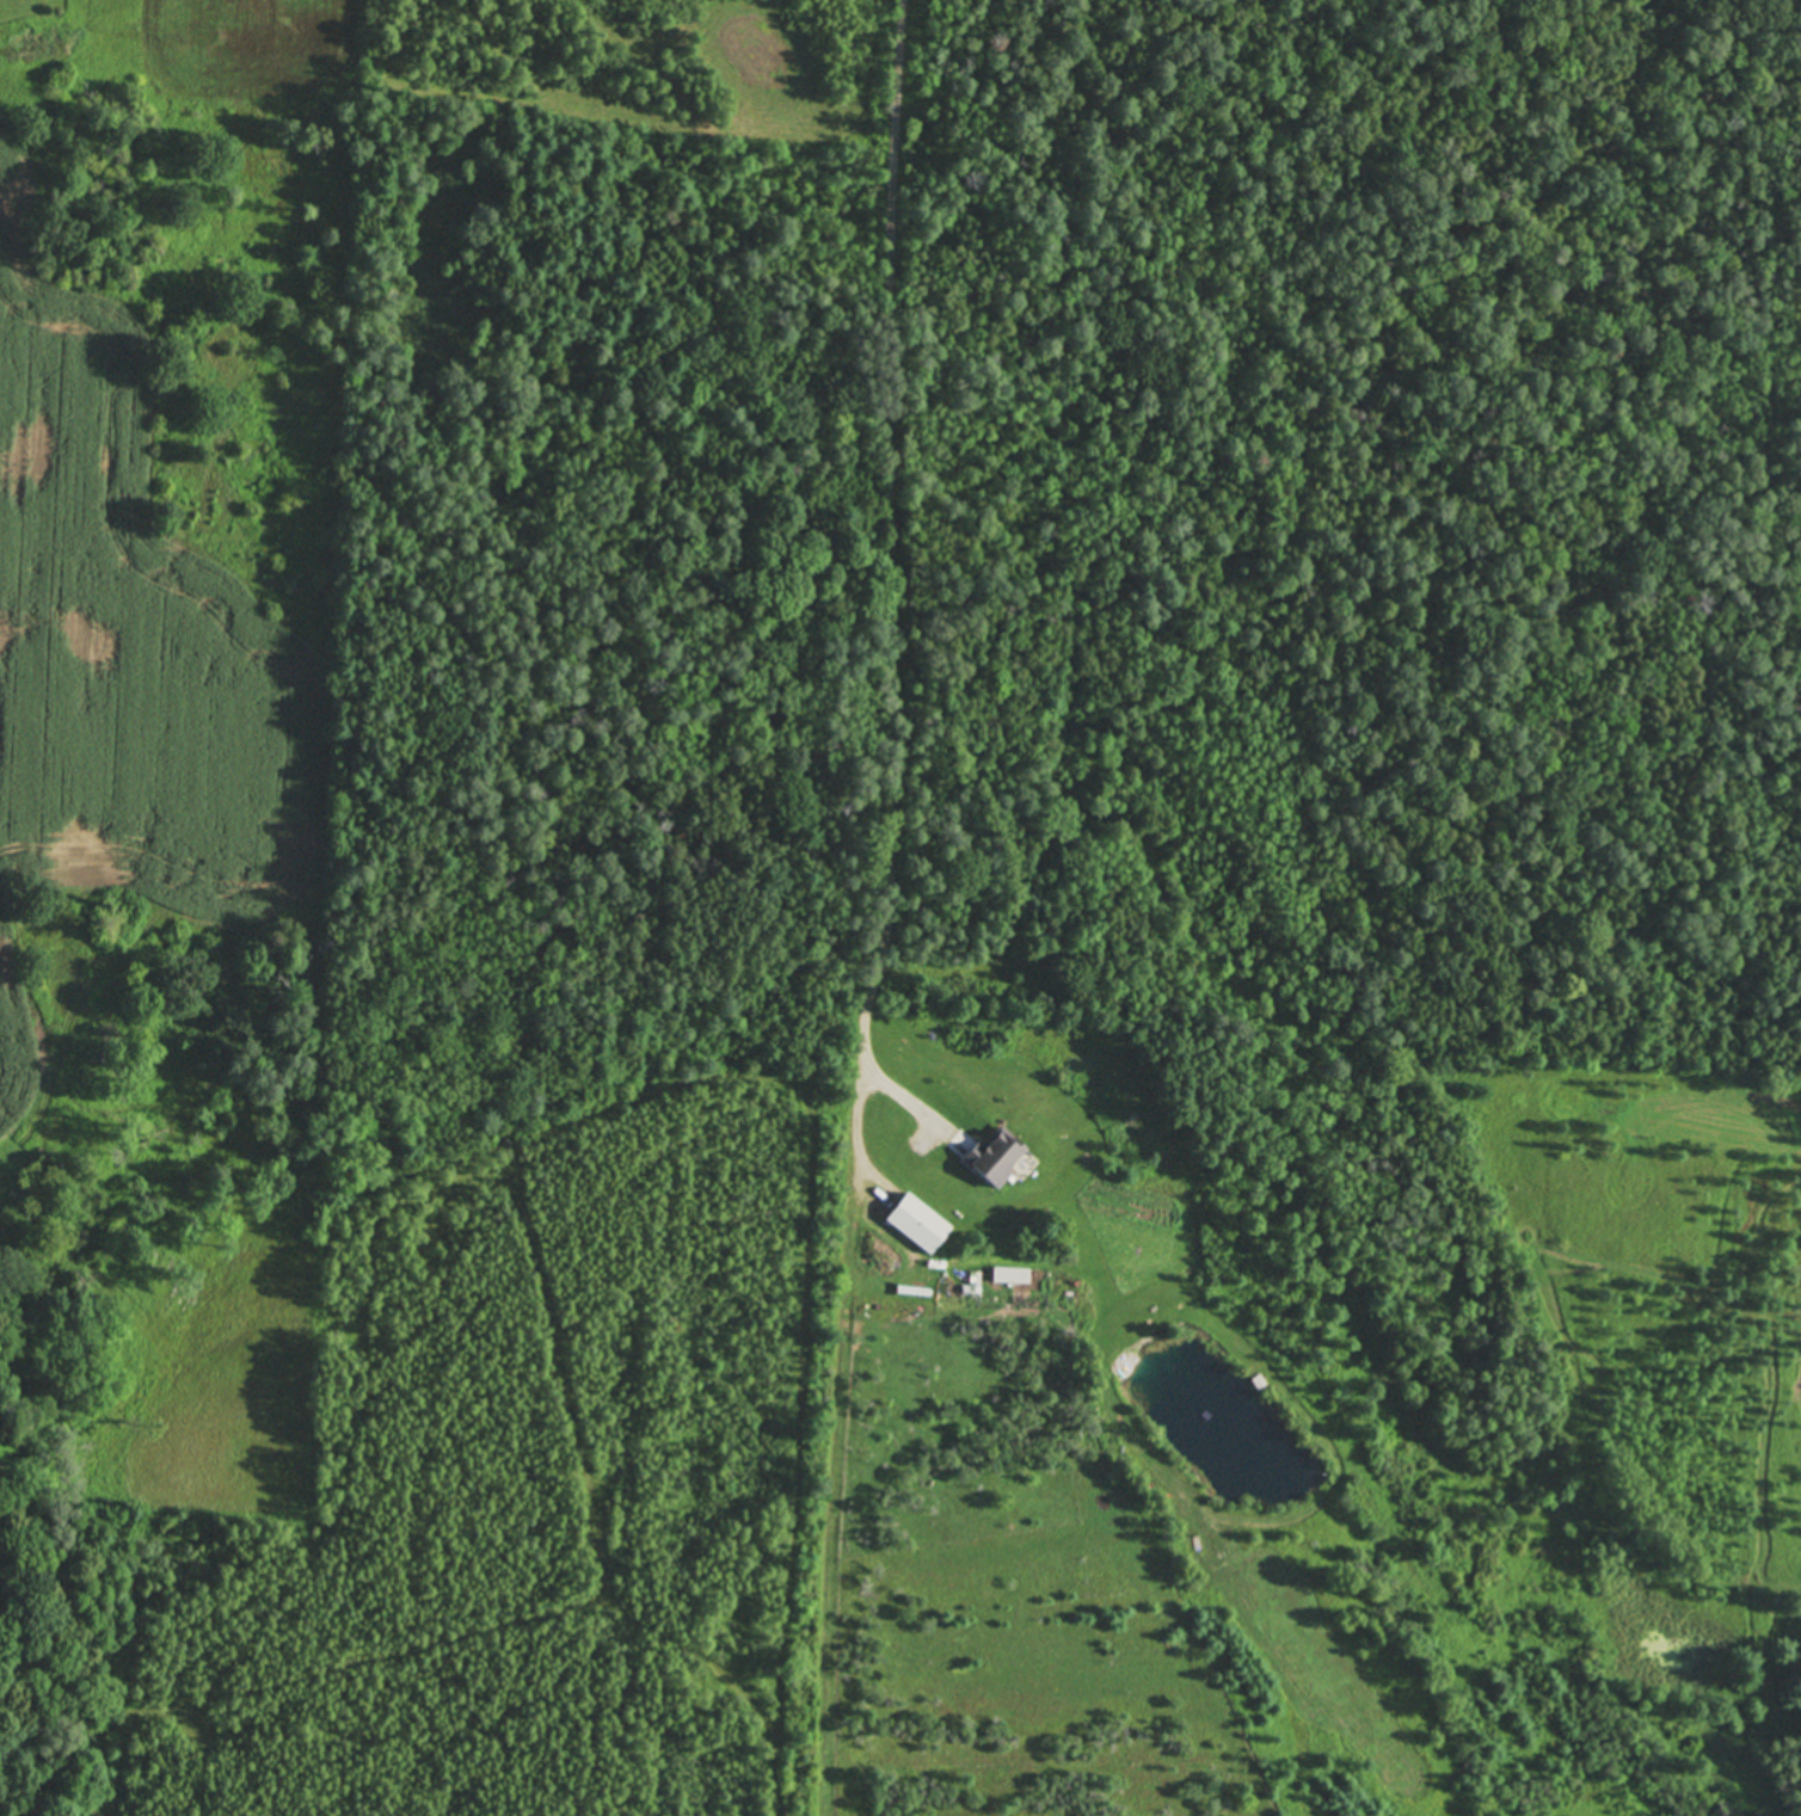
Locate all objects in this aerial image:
road: (887, 550)
building: (992, 1158)
building: (918, 1224)
building: (1010, 1276)
building: (975, 1282)
building: (1258, 1381)
building: (1168, 1501)

